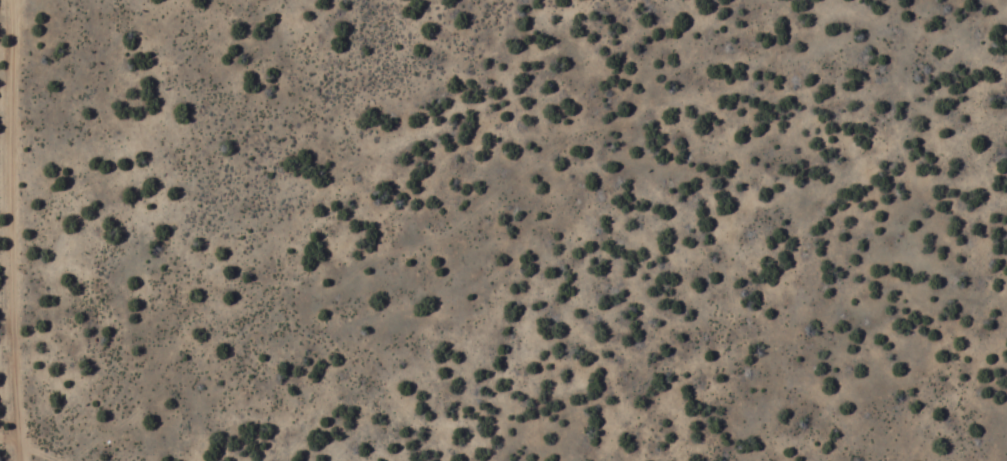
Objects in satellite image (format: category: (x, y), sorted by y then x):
road: (9, 230)
road: (9, 441)
road: (37, 452)

